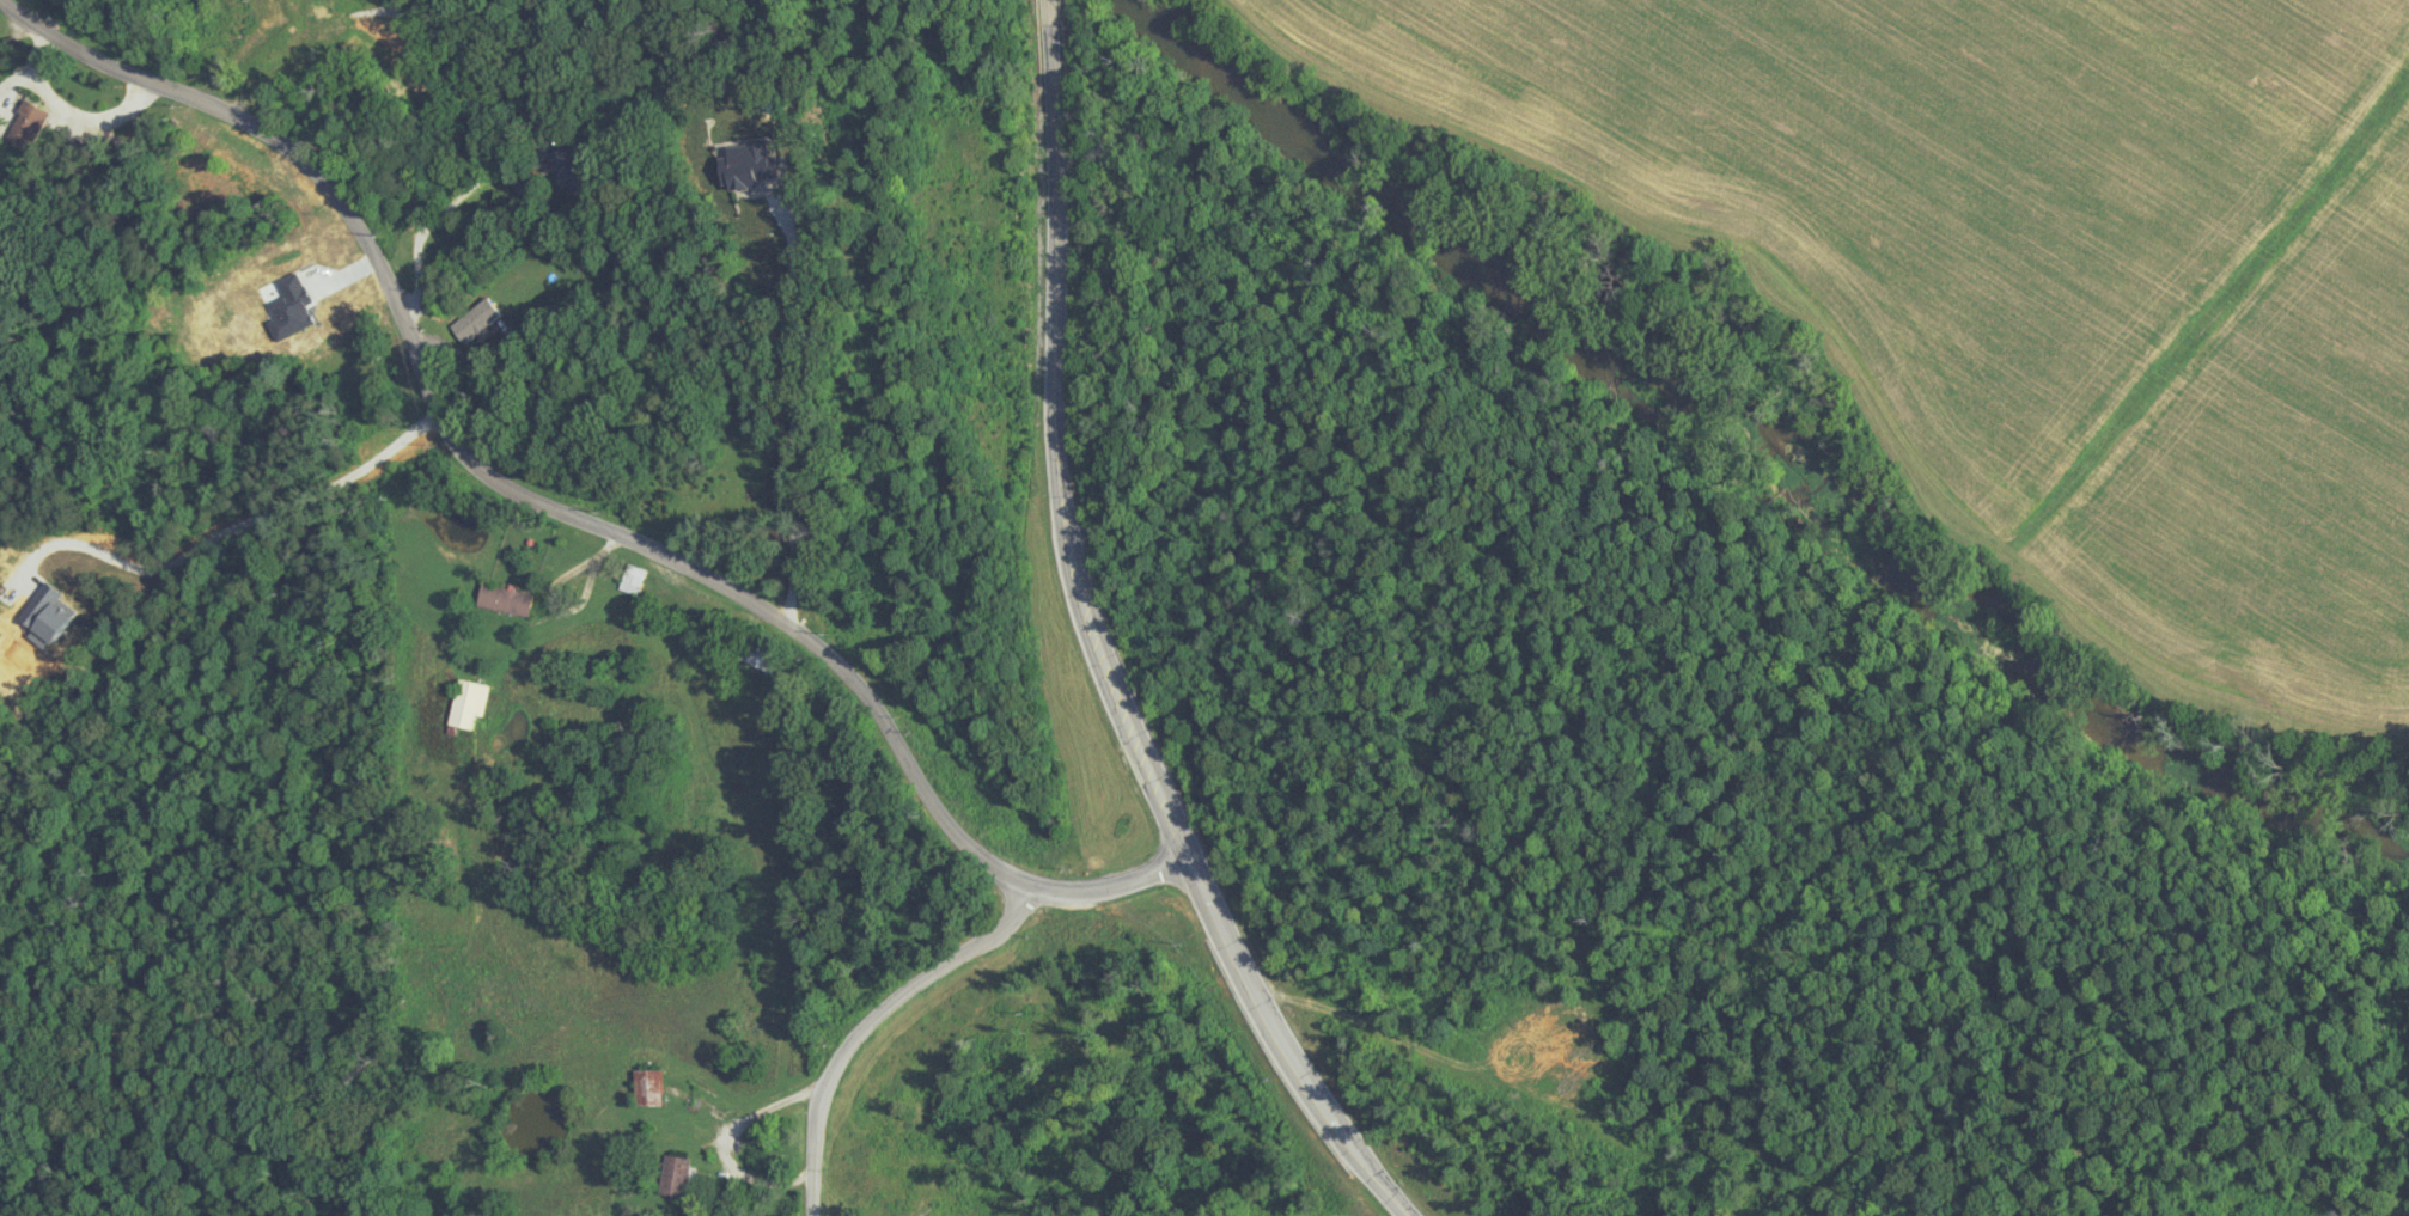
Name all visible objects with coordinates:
building: (26, 120)
building: (568, 167)
road: (443, 215)
building: (474, 318)
road: (795, 416)
road: (1057, 440)
river: (1758, 464)
road: (553, 508)
road: (240, 533)
building: (629, 579)
building: (502, 599)
building: (754, 655)
building: (465, 703)
road: (861, 1019)
road: (1277, 1047)
building: (646, 1087)
building: (671, 1177)

